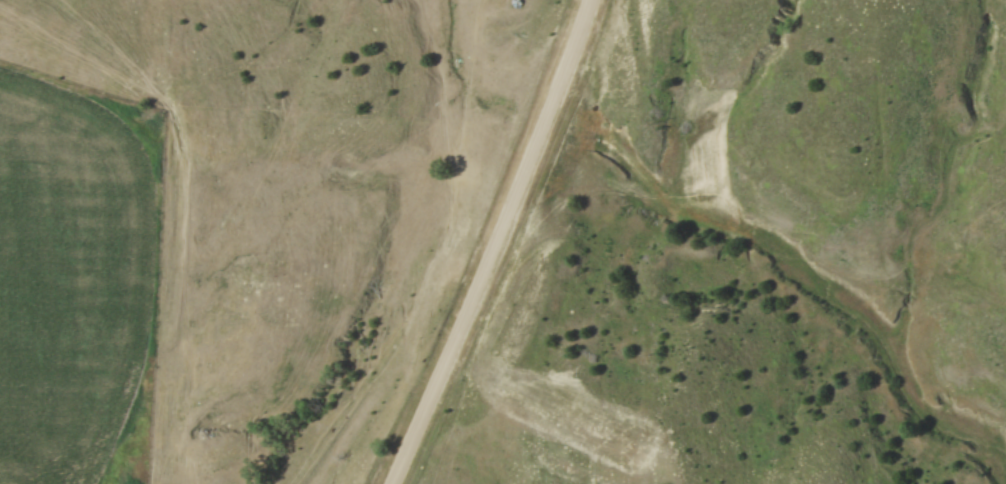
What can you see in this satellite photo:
road: (498, 245)
crop: (71, 282)

